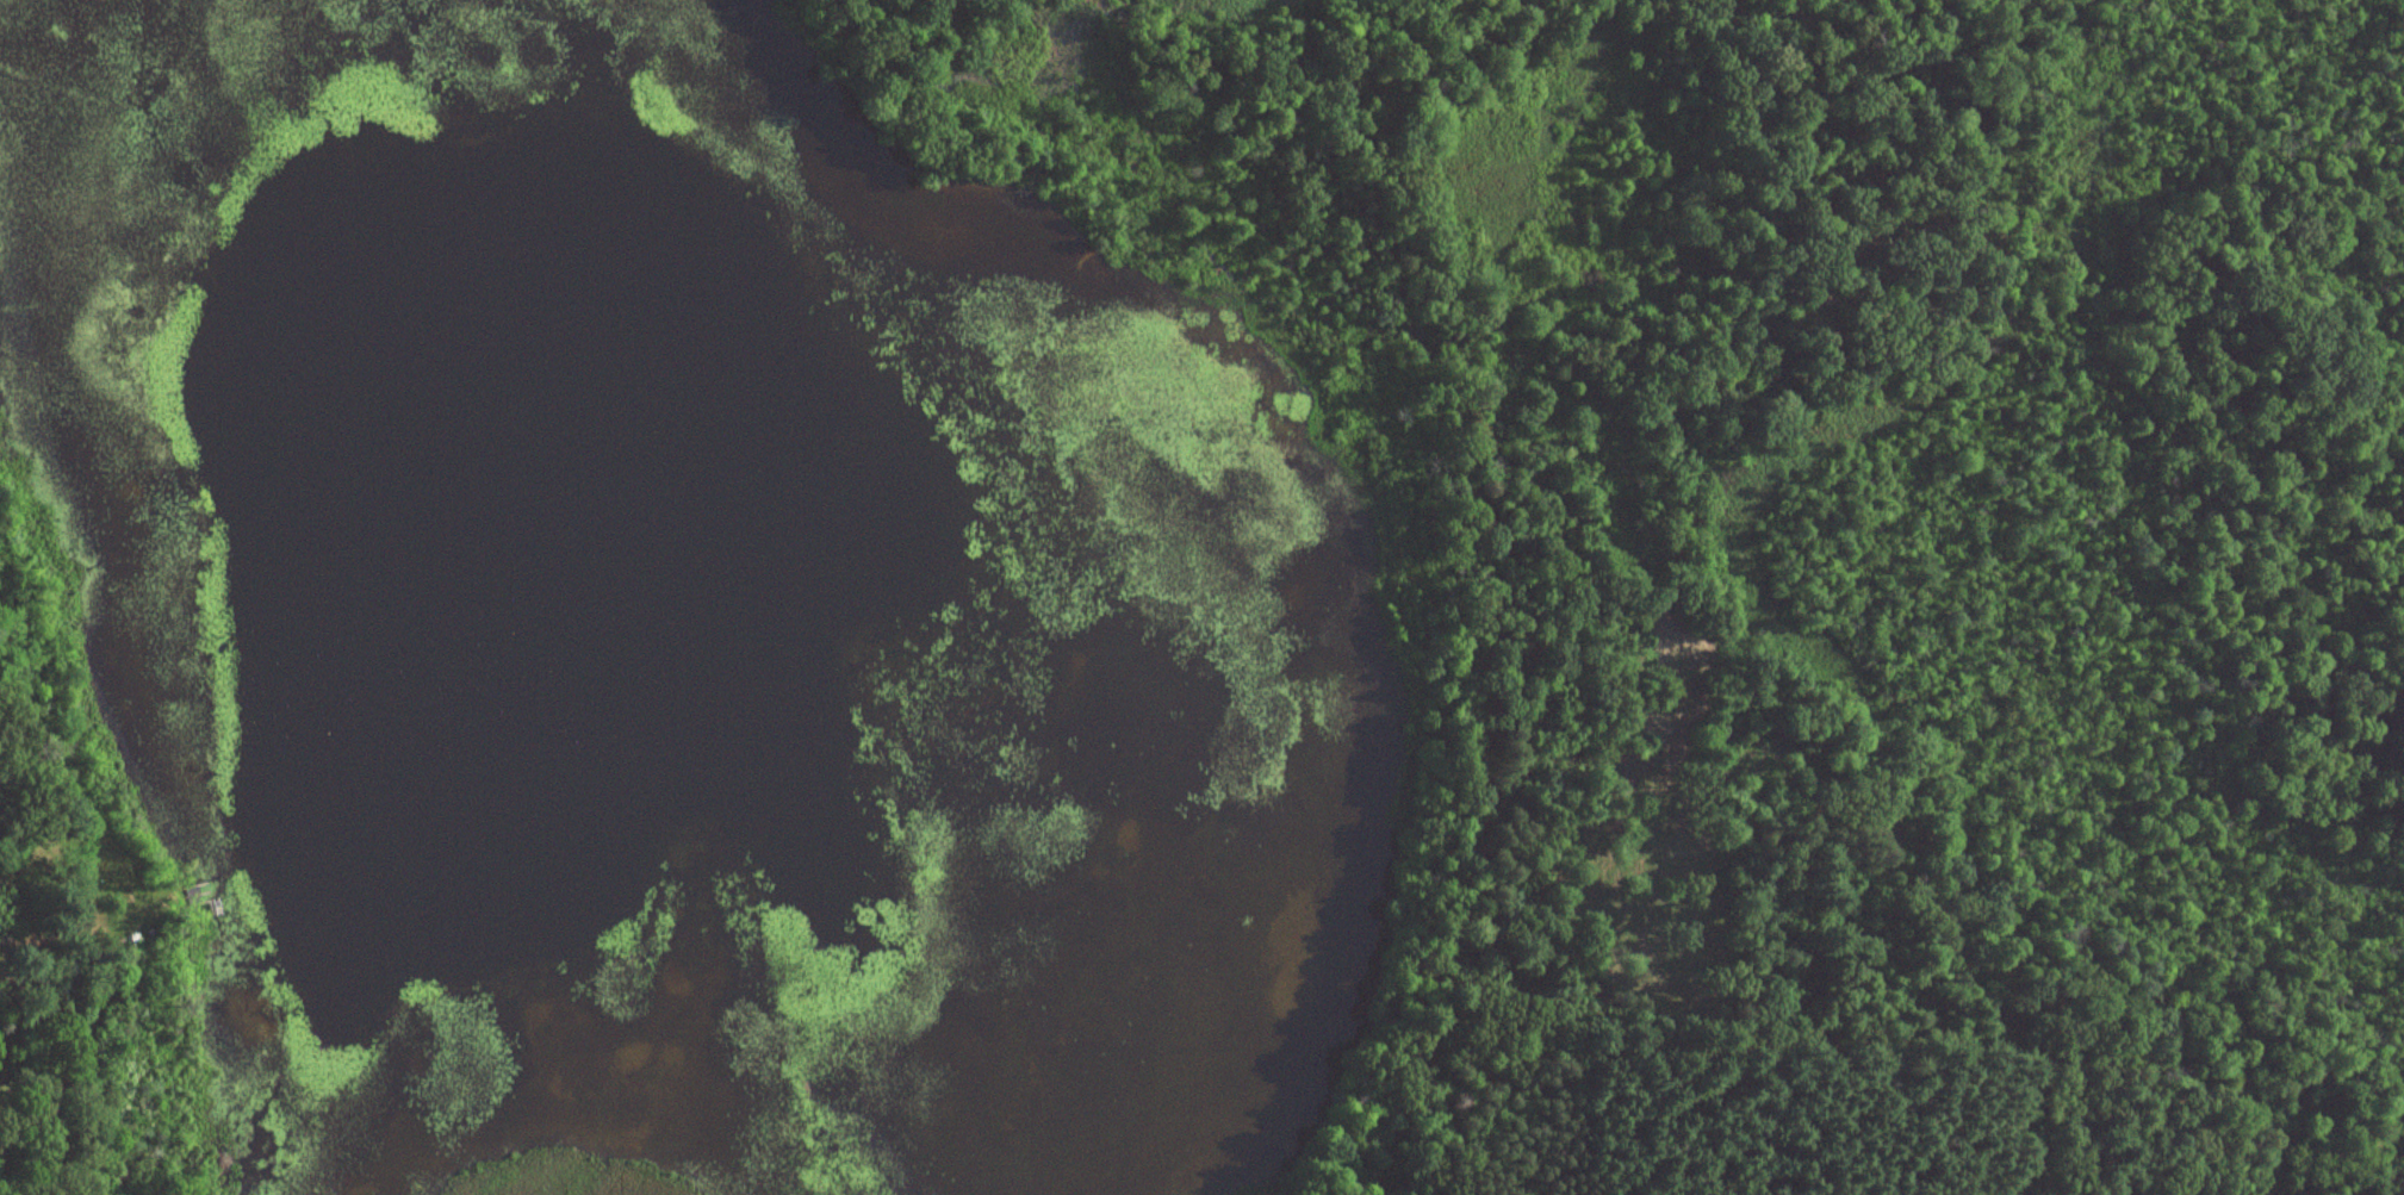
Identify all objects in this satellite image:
road: (2048, 1193)

